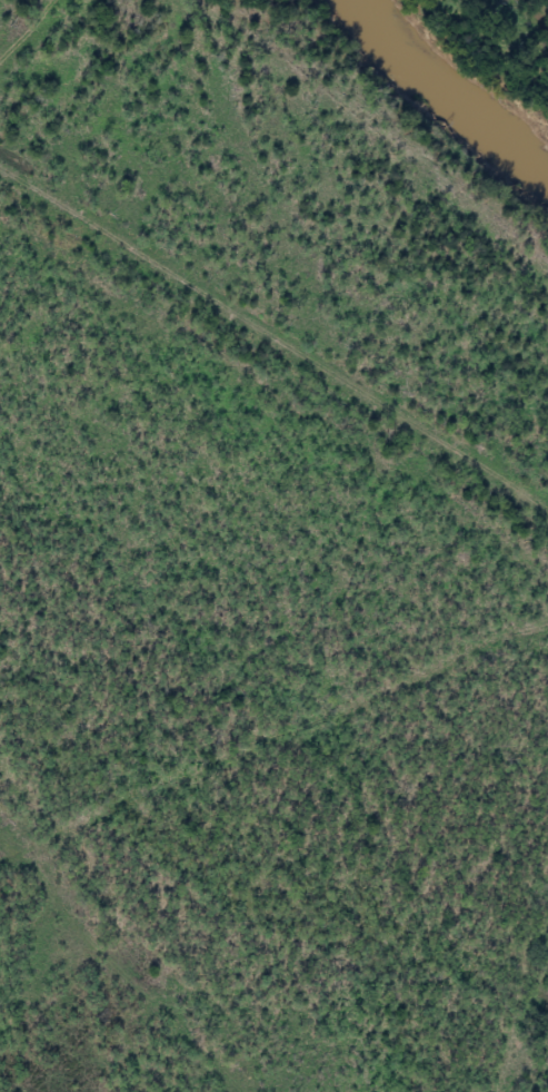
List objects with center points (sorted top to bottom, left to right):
river: (437, 101)
railway: (273, 326)

